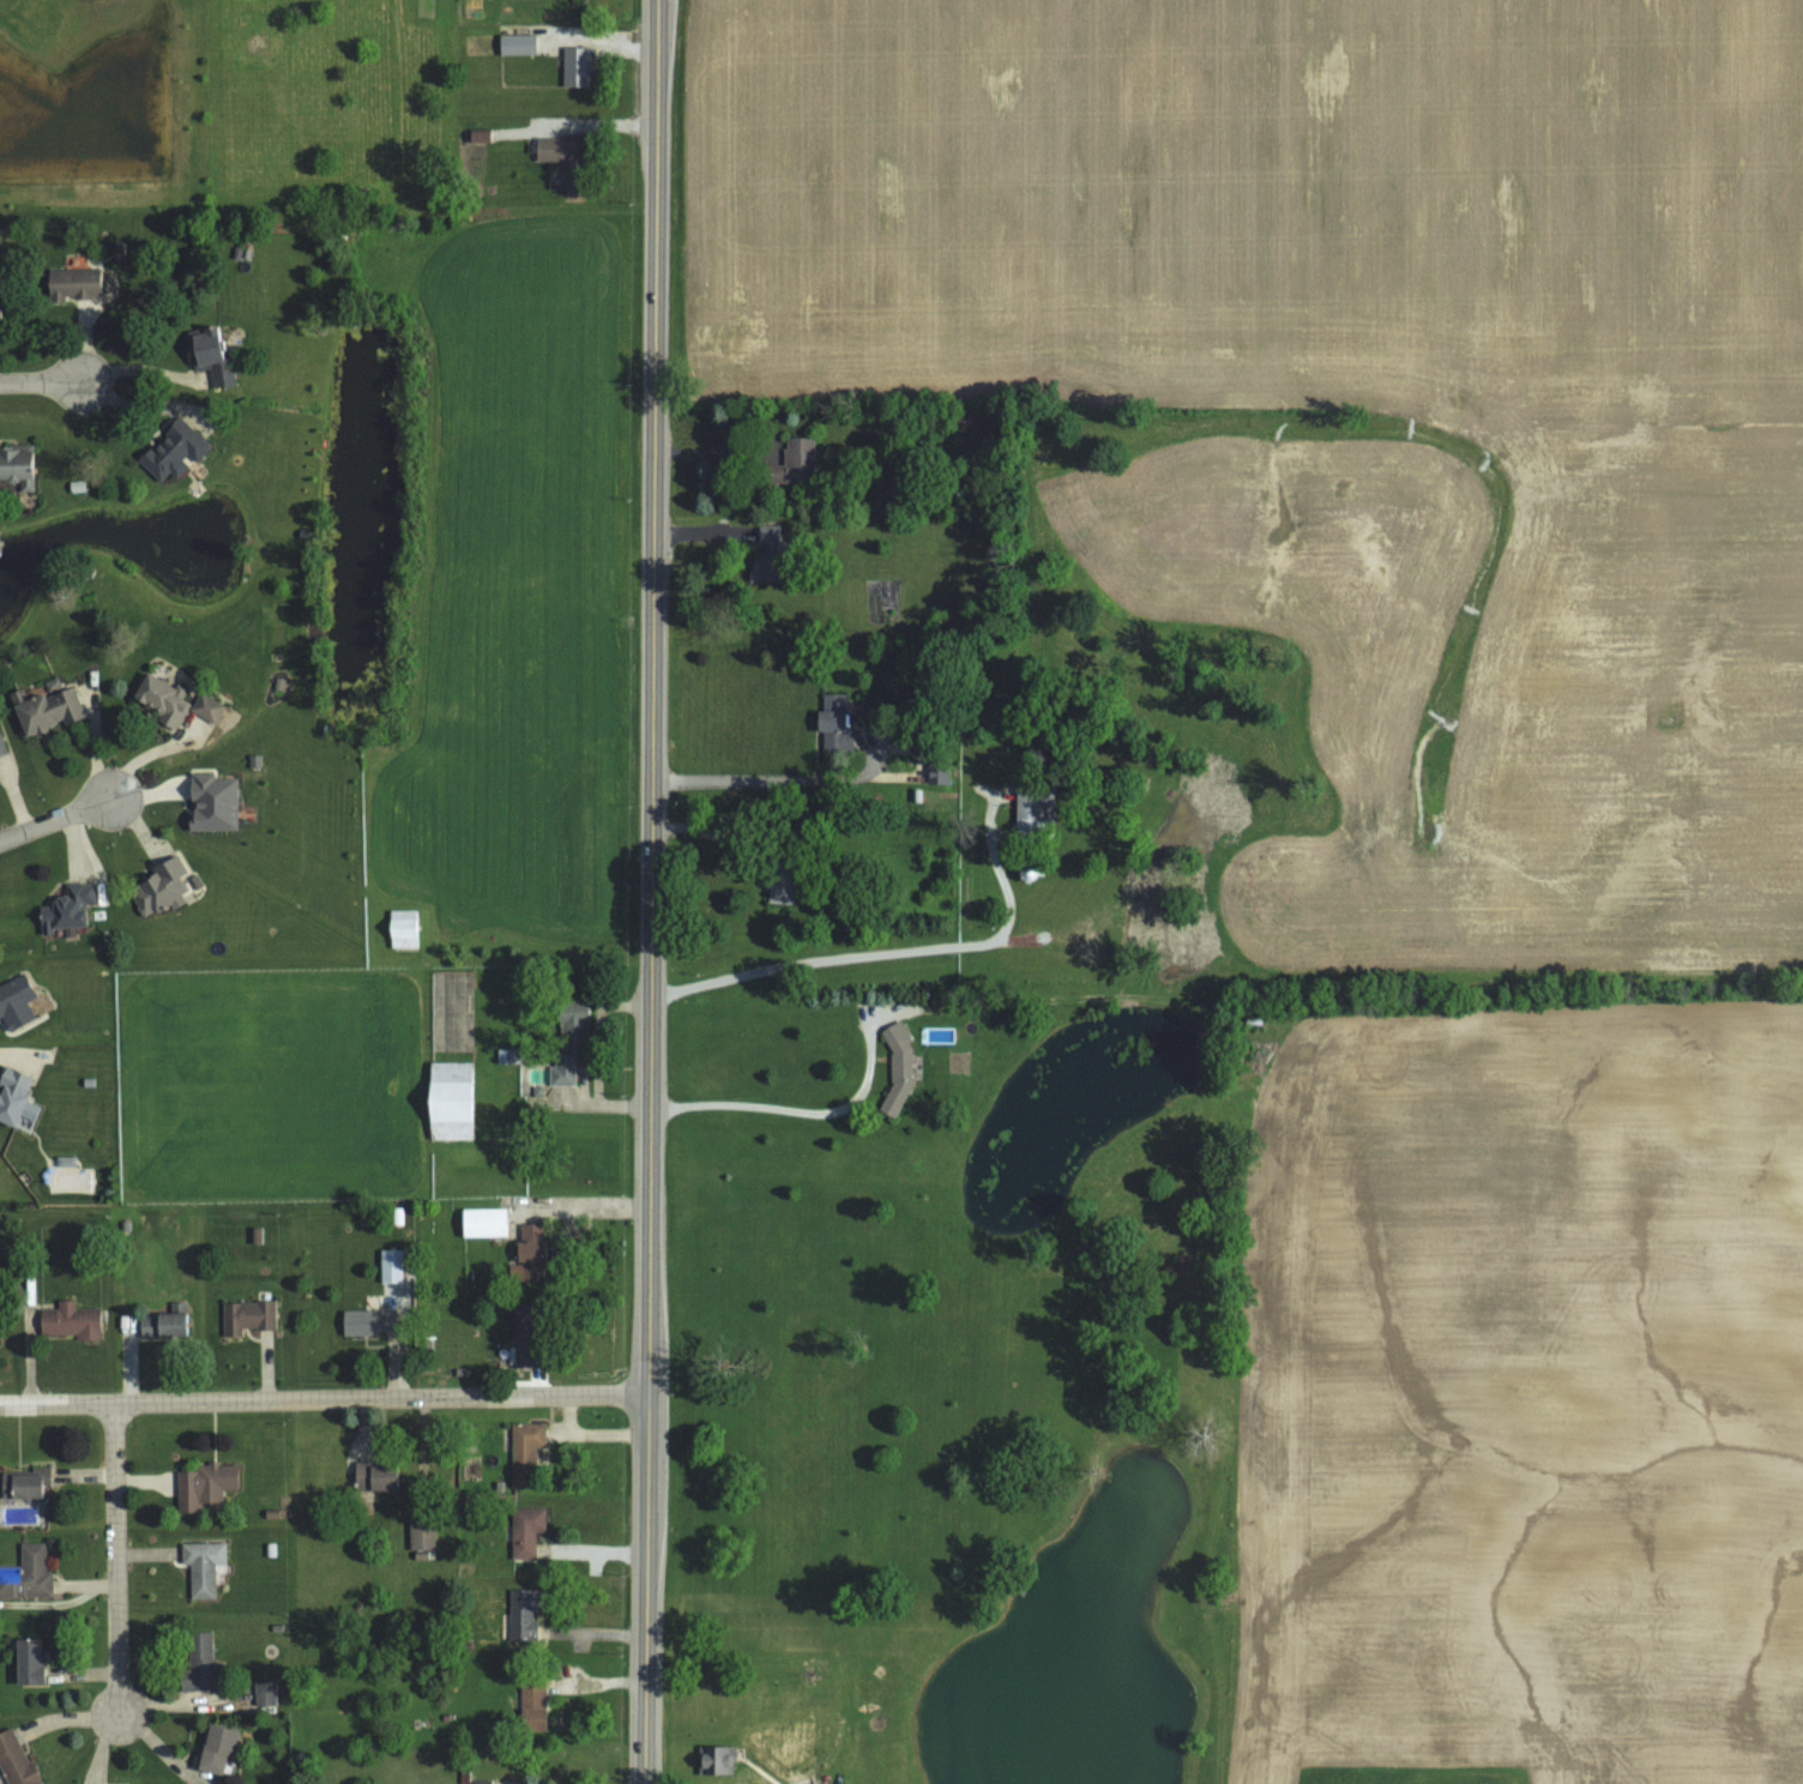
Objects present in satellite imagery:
building: (515, 43)
building: (574, 65)
building: (478, 135)
building: (560, 157)
building: (73, 282)
building: (207, 354)
road: (41, 382)
building: (173, 450)
road: (755, 450)
building: (794, 460)
building: (17, 466)
building: (765, 555)
building: (161, 700)
building: (44, 706)
building: (206, 707)
building: (832, 721)
building: (1, 747)
building: (939, 771)
road: (773, 778)
building: (211, 802)
road: (56, 819)
building: (779, 881)
building: (158, 887)
road: (652, 892)
building: (65, 908)
building: (400, 928)
road: (899, 950)
building: (14, 1001)
building: (568, 1042)
building: (505, 1056)
building: (897, 1068)
building: (446, 1101)
road: (789, 1107)
building: (481, 1223)
building: (529, 1253)
building: (388, 1266)
building: (246, 1316)
building: (70, 1321)
building: (366, 1322)
building: (158, 1326)
building: (523, 1334)
road: (324, 1399)
building: (373, 1477)
building: (23, 1483)
building: (204, 1485)
building: (525, 1532)
building: (420, 1535)
road: (116, 1559)
building: (201, 1567)
building: (26, 1574)
building: (523, 1614)
building: (28, 1661)
building: (198, 1663)
building: (265, 1693)
building: (531, 1704)
building: (213, 1746)
building: (714, 1759)
building: (14, 1760)
building: (481, 1782)

